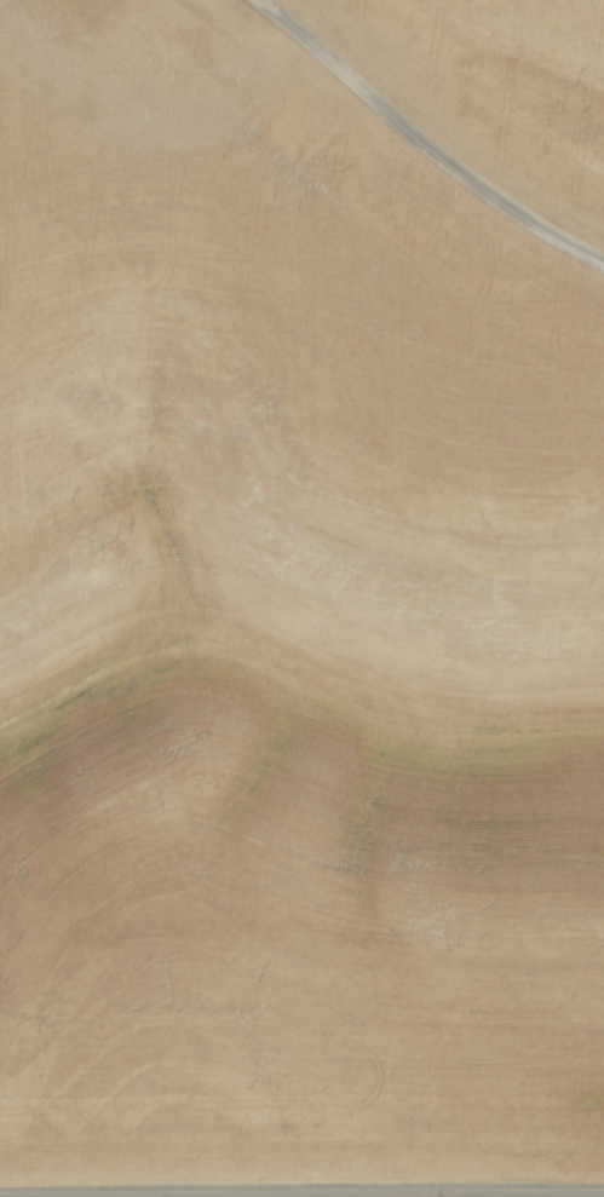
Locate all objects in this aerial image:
road: (425, 142)
road: (301, 1179)

